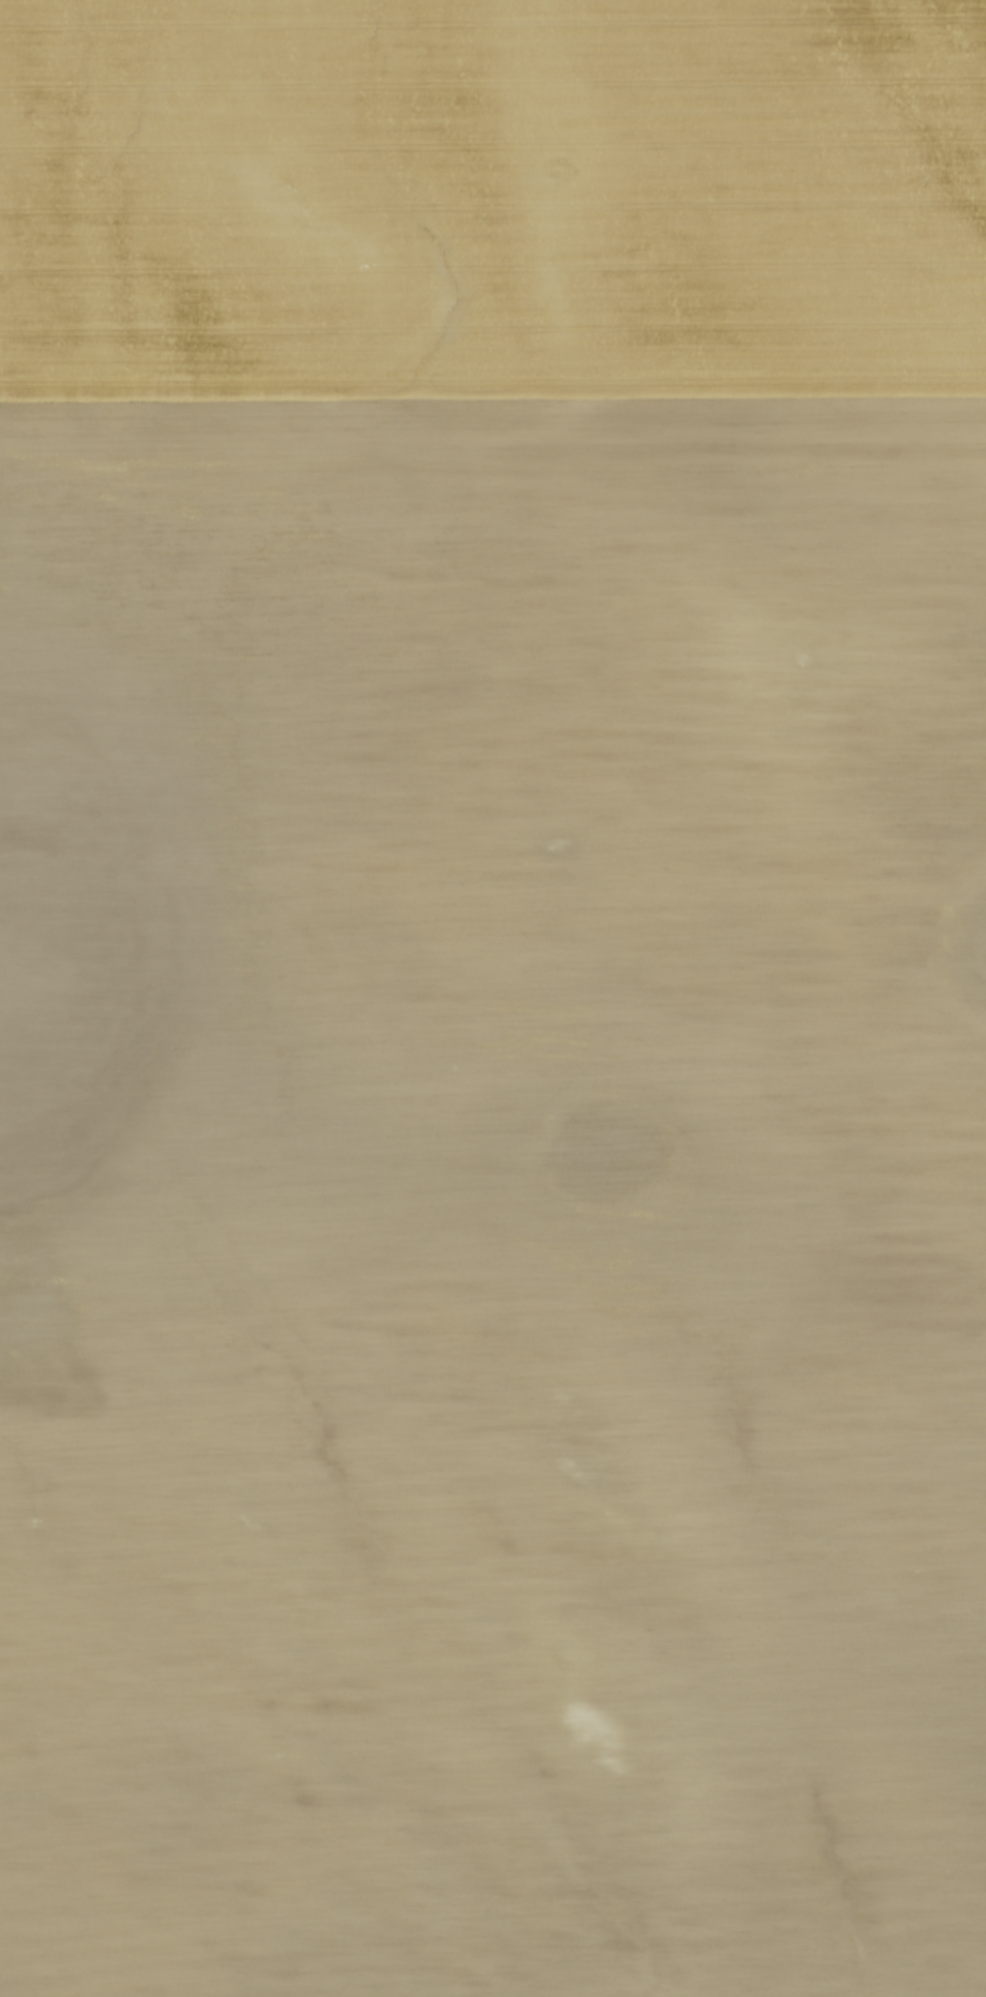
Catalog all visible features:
crop: (493, 998)

